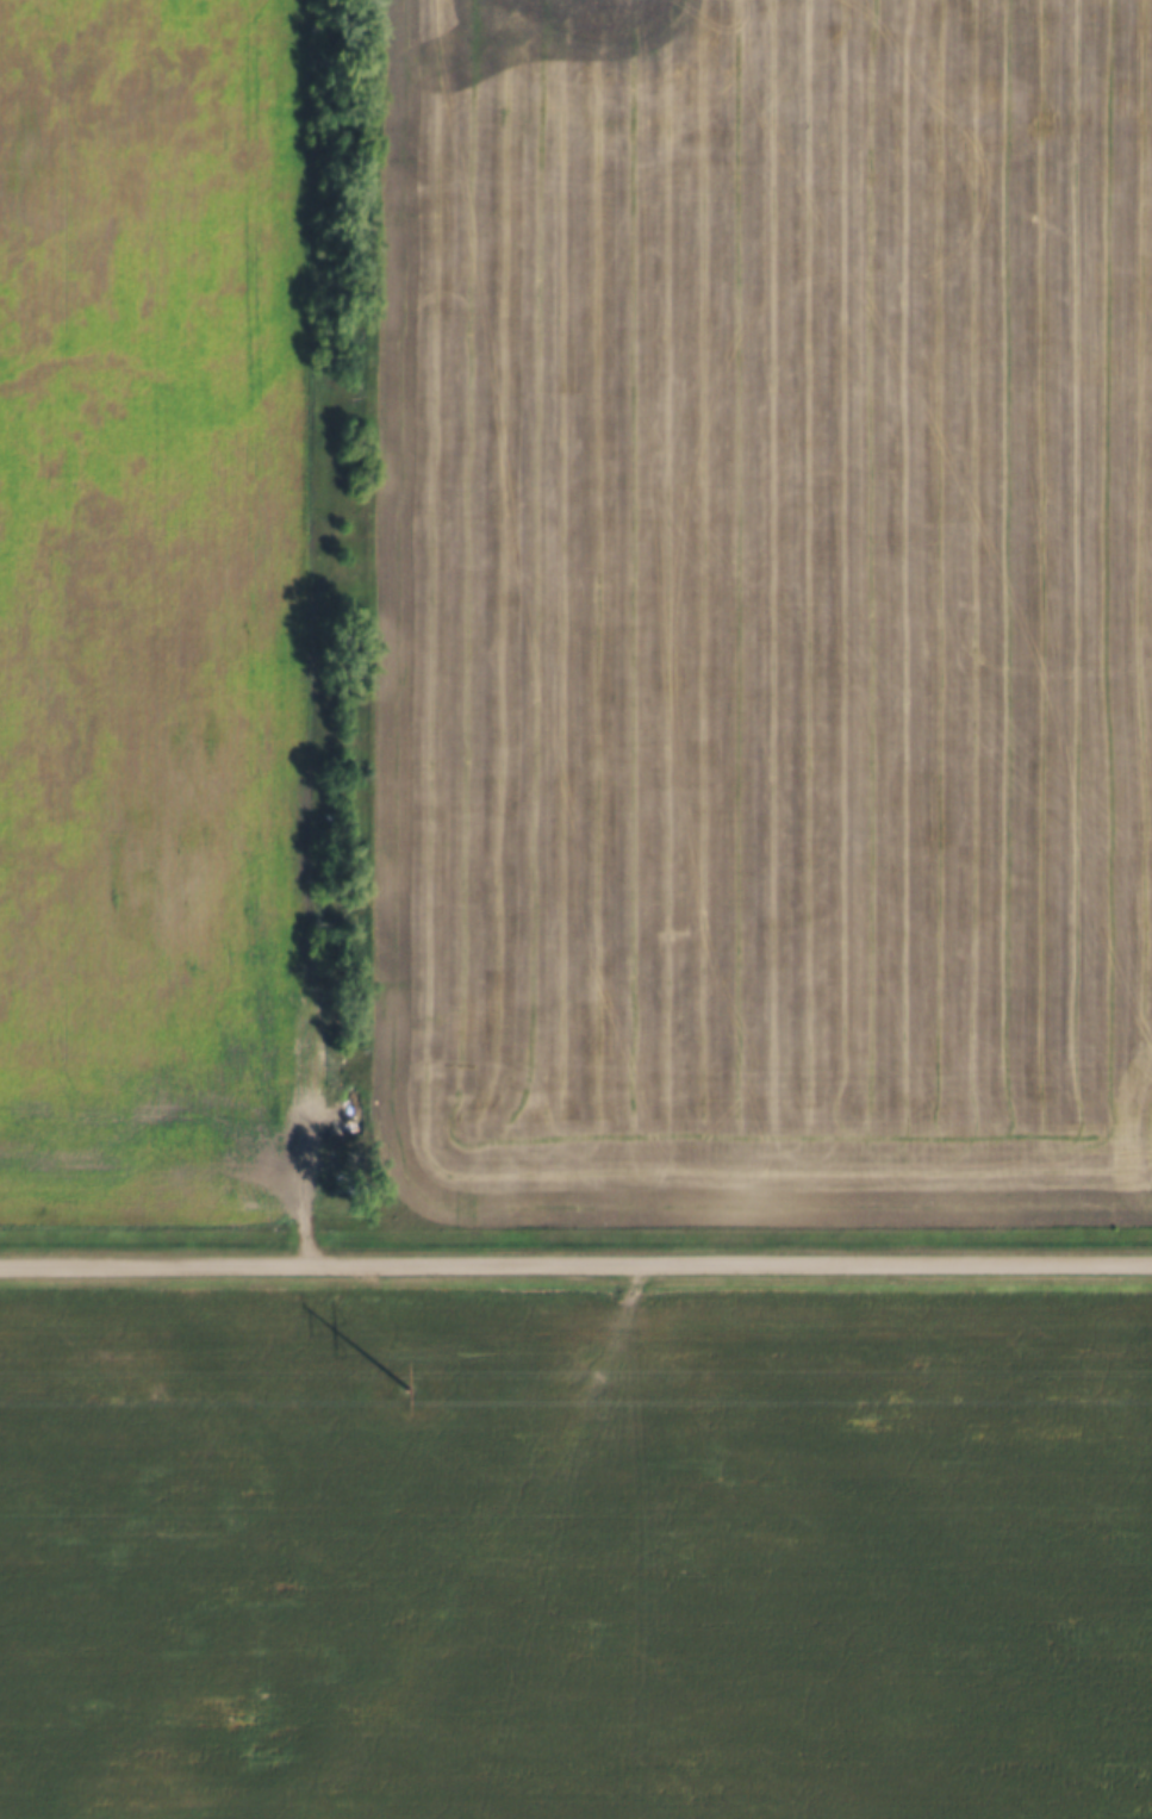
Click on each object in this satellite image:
road: (575, 1262)
power tower: (410, 1382)

